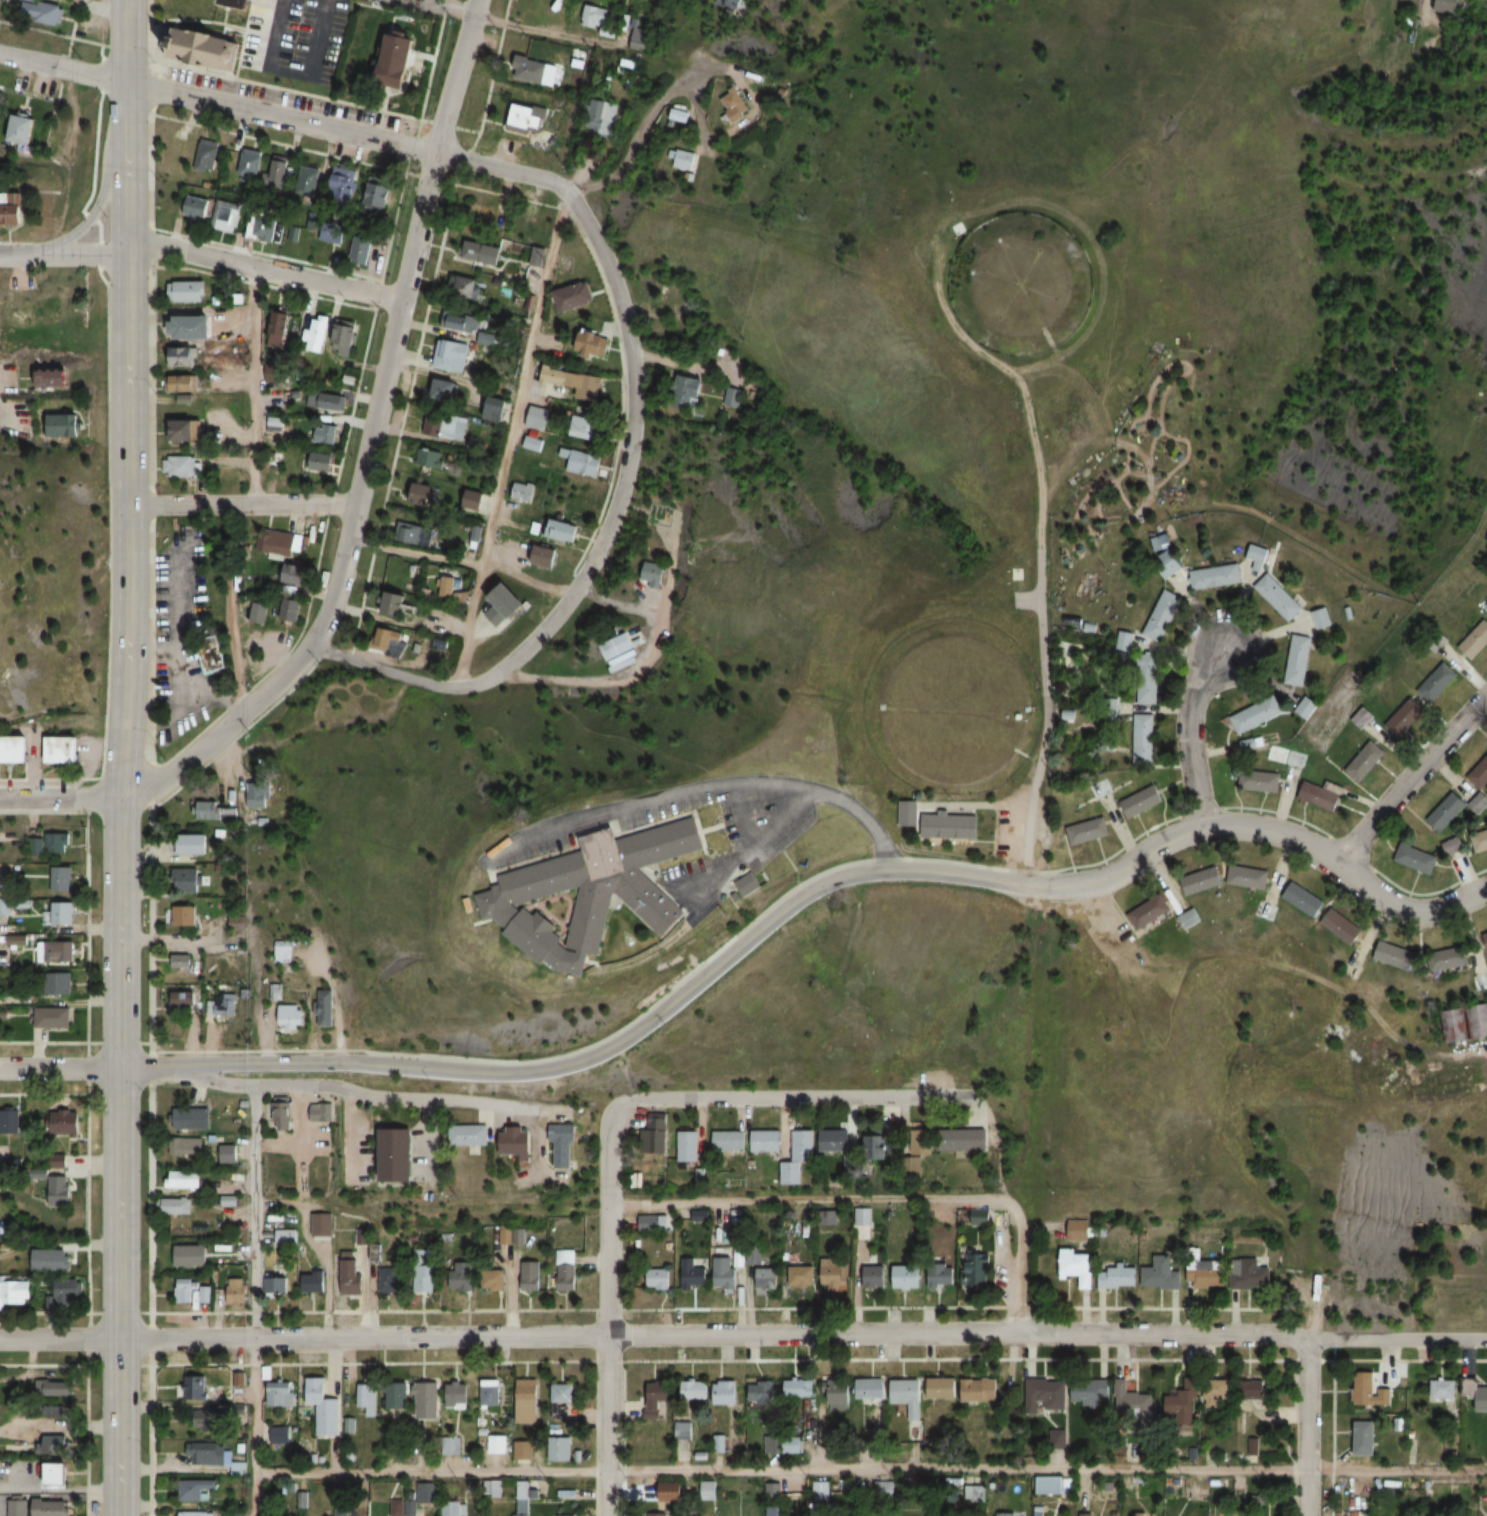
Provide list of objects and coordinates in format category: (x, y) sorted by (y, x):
building: (728, 3)
building: (0, 4)
building: (1444, 6)
building: (43, 11)
building: (593, 16)
road: (198, 18)
road: (169, 23)
road: (502, 24)
road: (197, 25)
road: (228, 32)
road: (244, 33)
building: (638, 35)
parking lot: (294, 37)
building: (198, 47)
road: (152, 56)
building: (402, 57)
building: (534, 71)
road: (295, 89)
parking lot: (283, 95)
building: (733, 105)
building: (526, 116)
building: (598, 117)
building: (677, 117)
road: (284, 118)
building: (21, 128)
road: (125, 128)
building: (206, 151)
building: (683, 159)
building: (249, 165)
road: (621, 165)
building: (279, 169)
building: (309, 180)
building: (341, 184)
building: (376, 191)
building: (14, 207)
building: (210, 210)
building: (484, 215)
road: (90, 216)
building: (263, 227)
building: (332, 232)
building: (361, 249)
building: (481, 251)
road: (62, 257)
road: (263, 268)
building: (467, 288)
building: (188, 291)
building: (674, 292)
building: (455, 321)
building: (278, 326)
building: (193, 327)
building: (316, 333)
building: (344, 337)
building: (485, 338)
building: (587, 345)
building: (182, 355)
building: (450, 355)
building: (53, 376)
building: (573, 382)
building: (174, 384)
road: (250, 385)
building: (447, 392)
building: (686, 392)
building: (330, 403)
building: (494, 408)
building: (536, 418)
building: (430, 423)
building: (61, 425)
building: (581, 427)
building: (452, 429)
building: (184, 430)
building: (324, 432)
road: (507, 439)
building: (530, 443)
road: (368, 444)
building: (425, 455)
building: (320, 461)
building: (579, 462)
building: (181, 466)
building: (520, 491)
building: (419, 493)
building: (472, 498)
road: (241, 505)
building: (661, 511)
building: (534, 527)
building: (559, 530)
building: (412, 533)
road: (598, 541)
building: (276, 542)
road: (414, 551)
building: (540, 555)
building: (1170, 558)
building: (293, 573)
building: (652, 575)
building: (1215, 576)
road: (525, 579)
building: (445, 586)
building: (1279, 597)
building: (387, 602)
building: (505, 604)
building: (257, 611)
building: (287, 611)
building: (1161, 615)
building: (1321, 618)
building: (1475, 640)
building: (389, 642)
building: (1123, 642)
building: (616, 645)
building: (213, 655)
building: (1297, 660)
road: (127, 662)
building: (1142, 664)
building: (1436, 683)
building: (1145, 694)
building: (1305, 707)
building: (1255, 714)
building: (1362, 717)
building: (1405, 717)
road: (1192, 732)
building: (1142, 739)
building: (1246, 745)
building: (16, 749)
building: (65, 749)
road: (150, 757)
building: (1287, 757)
building: (1364, 761)
building: (1479, 774)
road: (1413, 779)
building: (1258, 781)
building: (1101, 788)
building: (255, 792)
building: (1323, 795)
road: (60, 798)
building: (1141, 802)
building: (1479, 803)
road: (845, 809)
building: (208, 811)
building: (1447, 811)
building: (910, 813)
building: (951, 826)
building: (1087, 831)
road: (1177, 836)
building: (60, 839)
building: (1480, 842)
building: (190, 843)
building: (1454, 846)
building: (36, 848)
building: (1415, 859)
building: (1248, 877)
building: (62, 878)
building: (185, 880)
building: (1202, 880)
building: (751, 884)
building: (591, 893)
building: (1303, 899)
building: (5, 905)
road: (1408, 907)
building: (1149, 911)
building: (1268, 911)
building: (59, 913)
building: (181, 915)
building: (1189, 918)
building: (1341, 926)
building: (1485, 935)
building: (283, 950)
building: (55, 951)
building: (1395, 955)
building: (1451, 958)
building: (181, 961)
building: (1481, 980)
building: (59, 984)
building: (273, 991)
building: (183, 1002)
building: (218, 1004)
building: (327, 1006)
building: (291, 1016)
building: (53, 1018)
building: (1468, 1023)
road: (597, 1056)
road: (59, 1066)
road: (355, 1092)
road: (790, 1097)
building: (317, 1112)
building: (279, 1114)
building: (192, 1116)
building: (10, 1120)
building: (68, 1122)
building: (658, 1133)
building: (469, 1135)
building: (966, 1139)
building: (839, 1140)
building: (918, 1140)
building: (729, 1141)
building: (768, 1141)
building: (518, 1143)
building: (878, 1145)
building: (188, 1146)
building: (563, 1146)
building: (690, 1146)
building: (229, 1153)
building: (398, 1156)
building: (799, 1157)
building: (12, 1163)
building: (184, 1179)
building: (59, 1191)
road: (805, 1201)
building: (175, 1206)
road: (1010, 1207)
building: (5, 1214)
building: (979, 1216)
building: (862, 1217)
building: (320, 1221)
building: (653, 1223)
building: (1078, 1230)
building: (285, 1236)
building: (191, 1256)
building: (1076, 1266)
building: (566, 1270)
building: (726, 1270)
building: (971, 1270)
building: (834, 1272)
building: (692, 1273)
building: (1207, 1274)
building: (530, 1275)
building: (905, 1275)
building: (941, 1275)
building: (1117, 1275)
building: (1161, 1275)
building: (1250, 1275)
building: (352, 1276)
building: (463, 1276)
building: (801, 1276)
building: (872, 1276)
building: (497, 1277)
building: (768, 1277)
building: (390, 1278)
building: (426, 1278)
building: (659, 1278)
road: (254, 1280)
building: (313, 1281)
building: (275, 1284)
building: (67, 1290)
building: (187, 1290)
road: (119, 1291)
building: (15, 1292)
building: (234, 1294)
road: (608, 1309)
road: (743, 1334)
building: (192, 1387)
building: (53, 1388)
building: (805, 1388)
building: (871, 1388)
building: (942, 1388)
building: (1442, 1389)
building: (696, 1390)
building: (979, 1390)
building: (1254, 1390)
building: (727, 1392)
building: (765, 1392)
building: (564, 1393)
building: (1090, 1393)
building: (1217, 1393)
building: (1475, 1393)
building: (279, 1394)
building: (491, 1394)
building: (837, 1394)
building: (1371, 1394)
building: (397, 1395)
building: (1047, 1395)
building: (457, 1396)
building: (908, 1396)
building: (657, 1397)
building: (366, 1398)
building: (428, 1400)
building: (528, 1401)
building: (1184, 1402)
building: (1135, 1403)
building: (326, 1411)
building: (207, 1421)
road: (1305, 1427)
building: (683, 1430)
building: (834, 1437)
building: (1364, 1440)
building: (716, 1443)
building: (496, 1444)
building: (770, 1444)
building: (792, 1444)
building: (54, 1445)
building: (1254, 1447)
building: (559, 1449)
building: (523, 1450)
building: (206, 1454)
road: (870, 1472)
building: (56, 1475)
building: (1051, 1485)
building: (493, 1489)
building: (197, 1490)
building: (707, 1490)
building: (883, 1490)
building: (821, 1491)
building: (670, 1492)
building: (427, 1493)
road: (254, 1496)
building: (521, 1498)
building: (341, 1505)
building: (18, 1507)
building: (49, 1508)
building: (400, 1508)
building: (452, 1508)
building: (192, 1514)
building: (785, 1515)
building: (1013, 1515)

